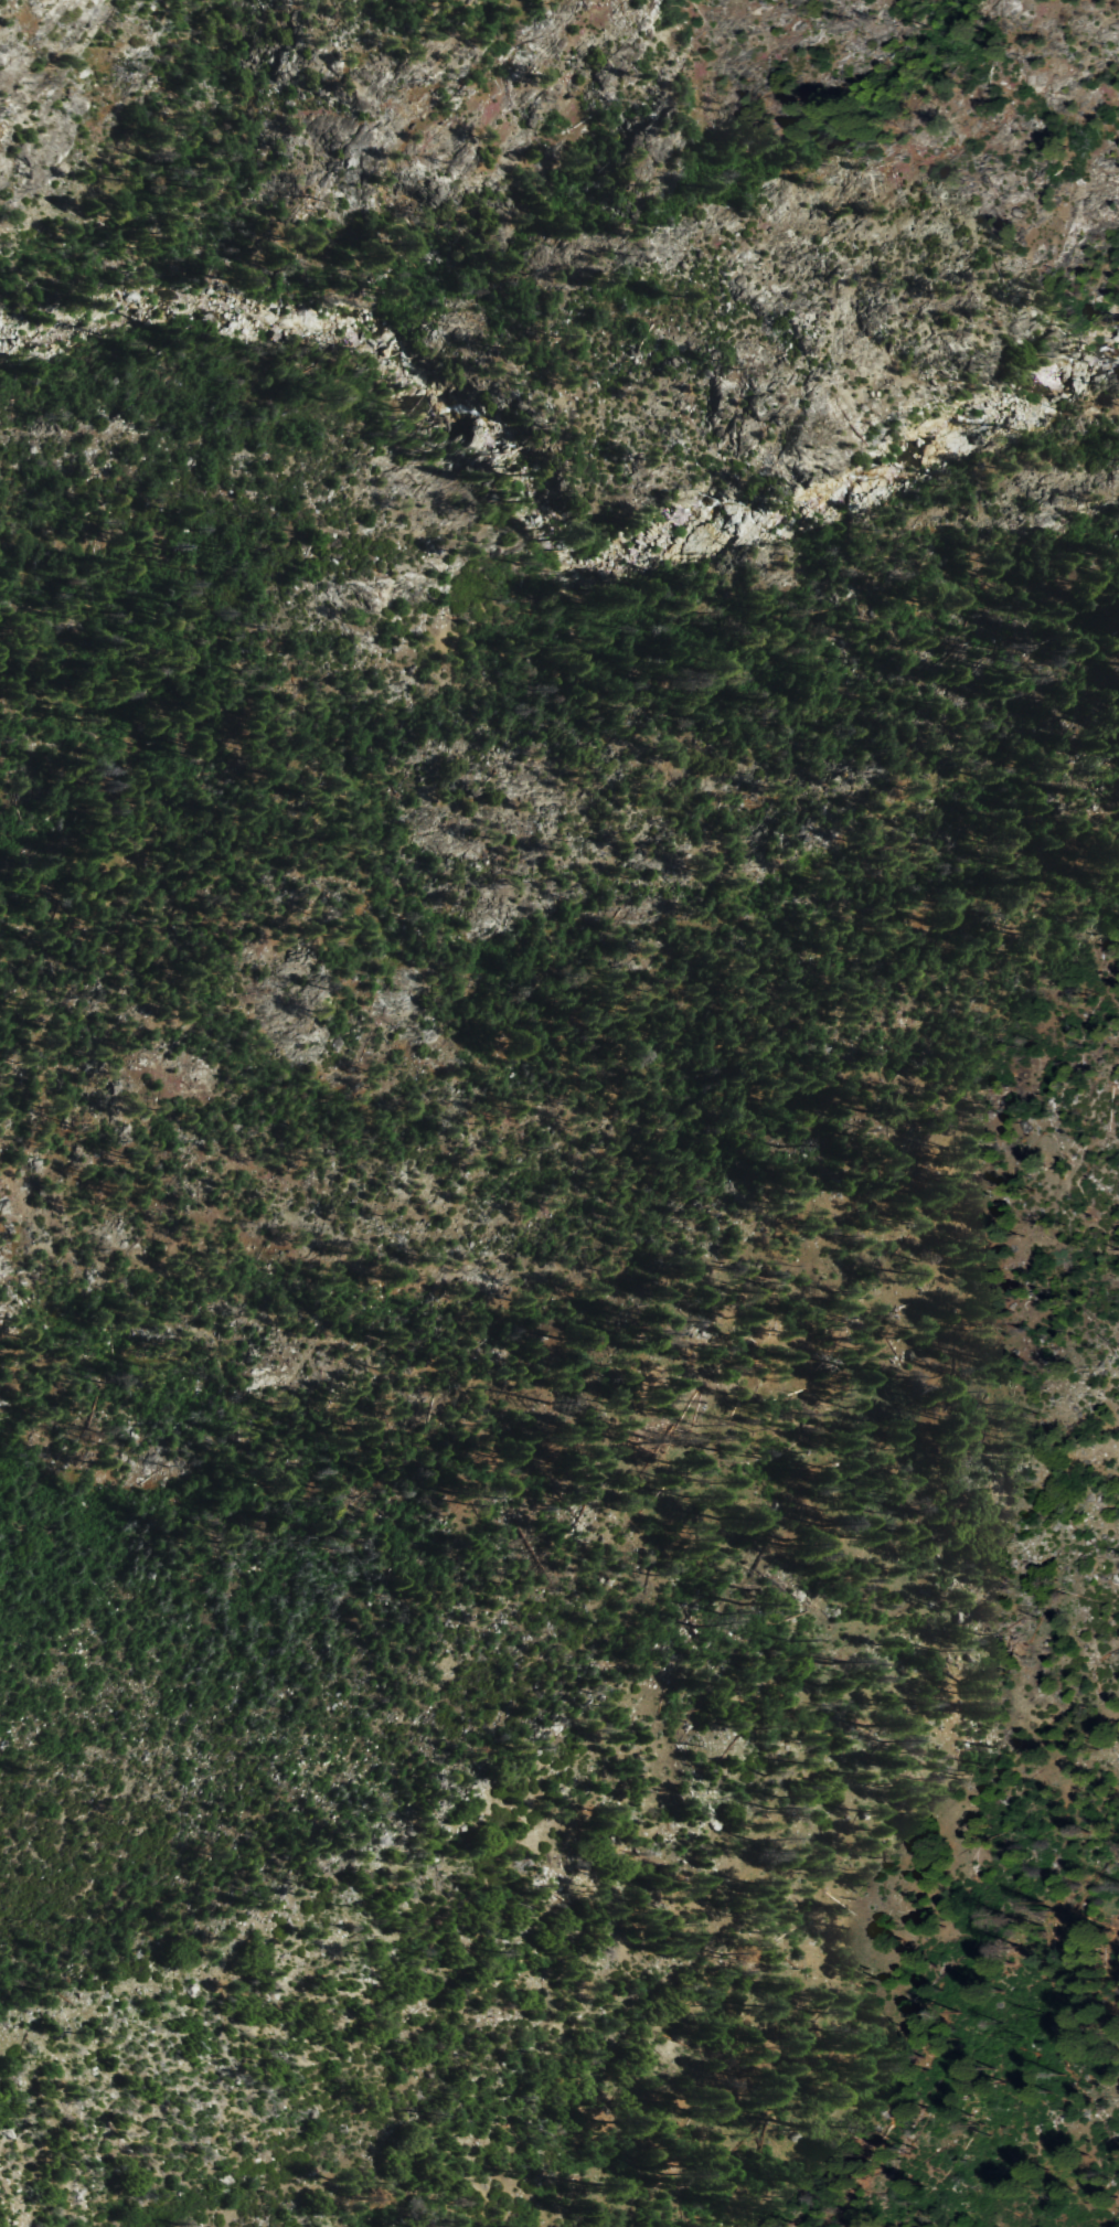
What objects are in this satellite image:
road: (1118, 2226)

